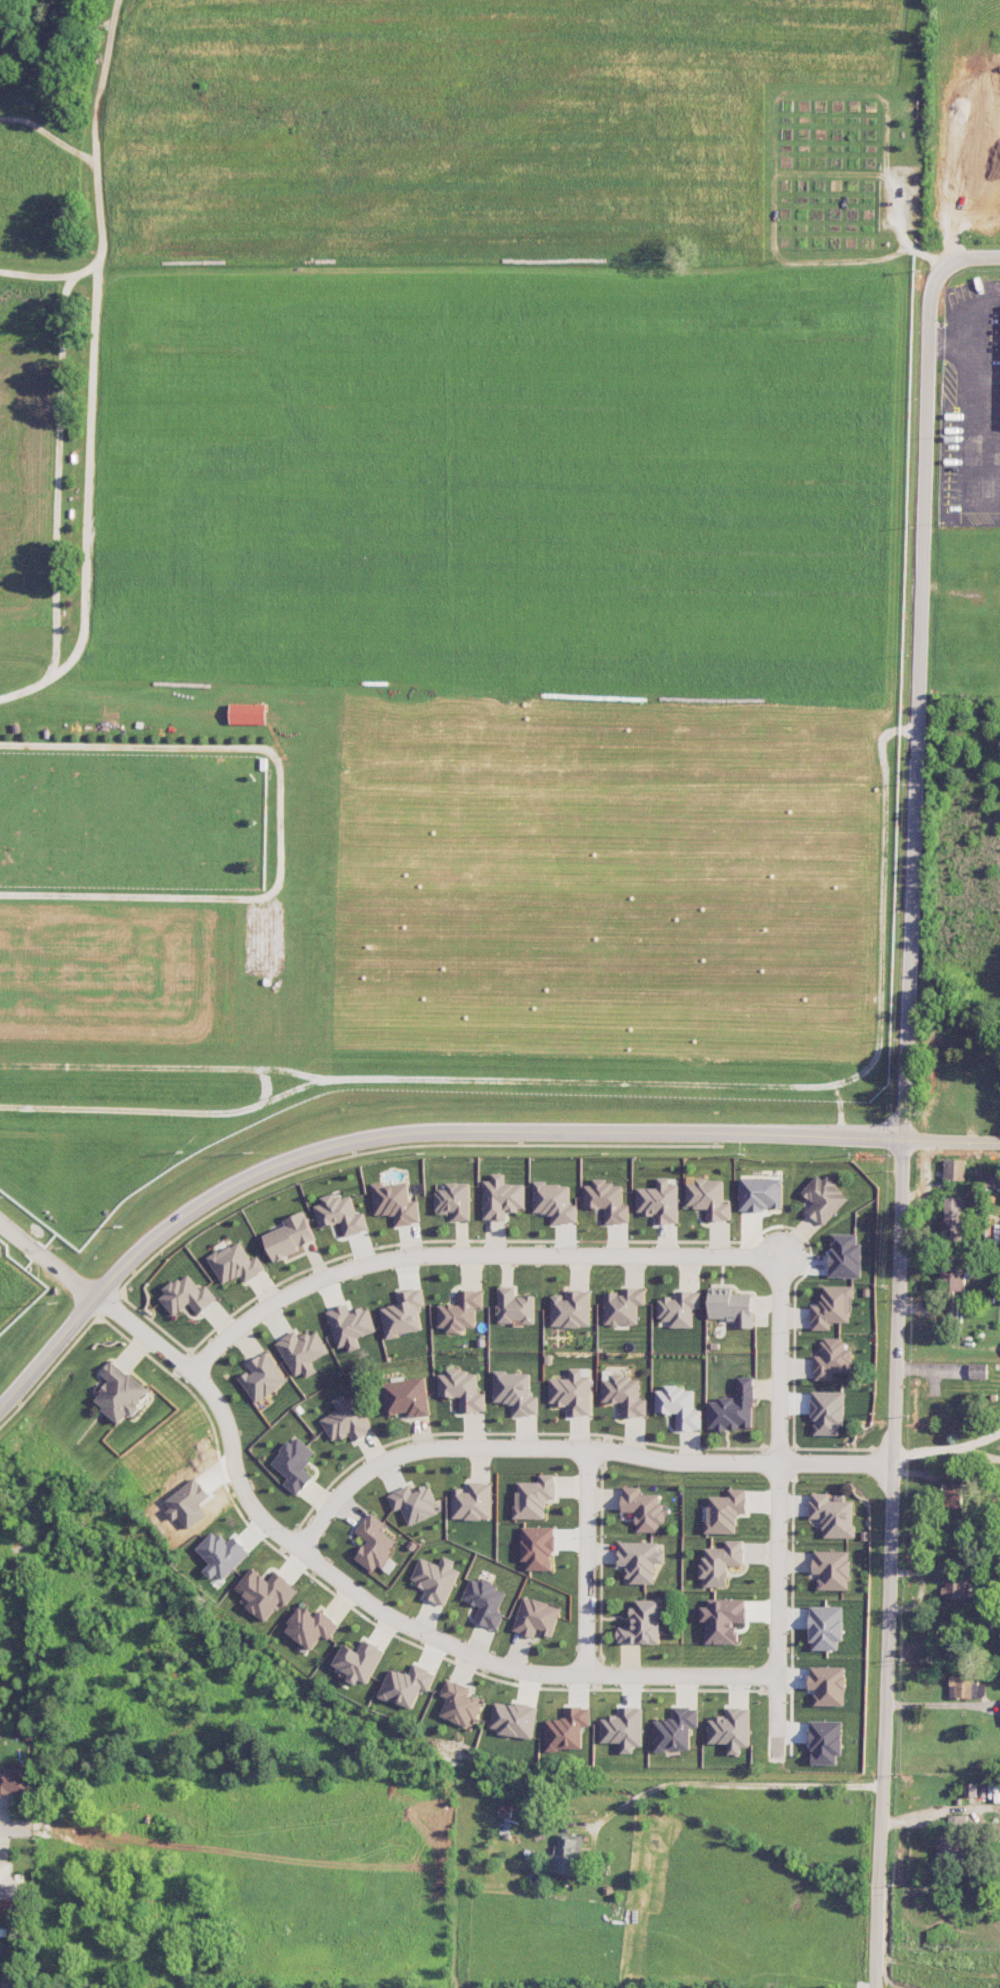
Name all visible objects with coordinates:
road: (96, 181)
road: (969, 256)
road: (57, 477)
road: (85, 503)
park: (439, 575)
road: (917, 703)
building: (248, 713)
road: (279, 823)
road: (159, 1066)
road: (437, 1079)
road: (472, 1129)
road: (951, 1139)
building: (954, 1169)
building: (760, 1193)
building: (501, 1197)
building: (708, 1197)
building: (823, 1198)
building: (453, 1200)
building: (606, 1200)
building: (659, 1201)
building: (395, 1202)
building: (553, 1202)
building: (340, 1214)
building: (952, 1219)
building: (289, 1235)
road: (467, 1255)
building: (845, 1255)
road: (47, 1260)
building: (235, 1263)
building: (952, 1287)
building: (186, 1295)
building: (514, 1306)
building: (623, 1306)
building: (731, 1306)
building: (832, 1307)
building: (570, 1308)
building: (679, 1308)
building: (460, 1311)
building: (403, 1312)
building: (349, 1325)
building: (302, 1351)
road: (47, 1354)
building: (832, 1358)
building: (978, 1370)
building: (262, 1376)
building: (462, 1389)
building: (572, 1391)
building: (120, 1392)
building: (515, 1392)
building: (624, 1394)
building: (406, 1397)
building: (679, 1406)
building: (733, 1407)
building: (827, 1411)
building: (346, 1419)
road: (576, 1447)
building: (294, 1464)
building: (952, 1494)
building: (534, 1496)
building: (472, 1501)
road: (778, 1501)
building: (413, 1503)
building: (643, 1508)
building: (725, 1511)
building: (833, 1515)
building: (373, 1543)
building: (537, 1547)
building: (221, 1554)
building: (639, 1560)
road: (588, 1561)
building: (720, 1562)
road: (889, 1563)
building: (831, 1569)
building: (435, 1579)
building: (954, 1588)
building: (264, 1592)
road: (368, 1601)
building: (485, 1601)
building: (536, 1617)
building: (722, 1619)
building: (641, 1623)
building: (310, 1626)
building: (825, 1627)
building: (358, 1661)
building: (406, 1685)
building: (827, 1685)
building: (965, 1687)
building: (459, 1703)
building: (514, 1719)
building: (567, 1728)
building: (623, 1728)
building: (675, 1729)
building: (730, 1729)
building: (825, 1741)
road: (732, 1784)
building: (970, 1789)
building: (505, 1814)
road: (17, 1826)
building: (952, 1837)
building: (566, 1854)
building: (7, 1882)
building: (7, 1986)

